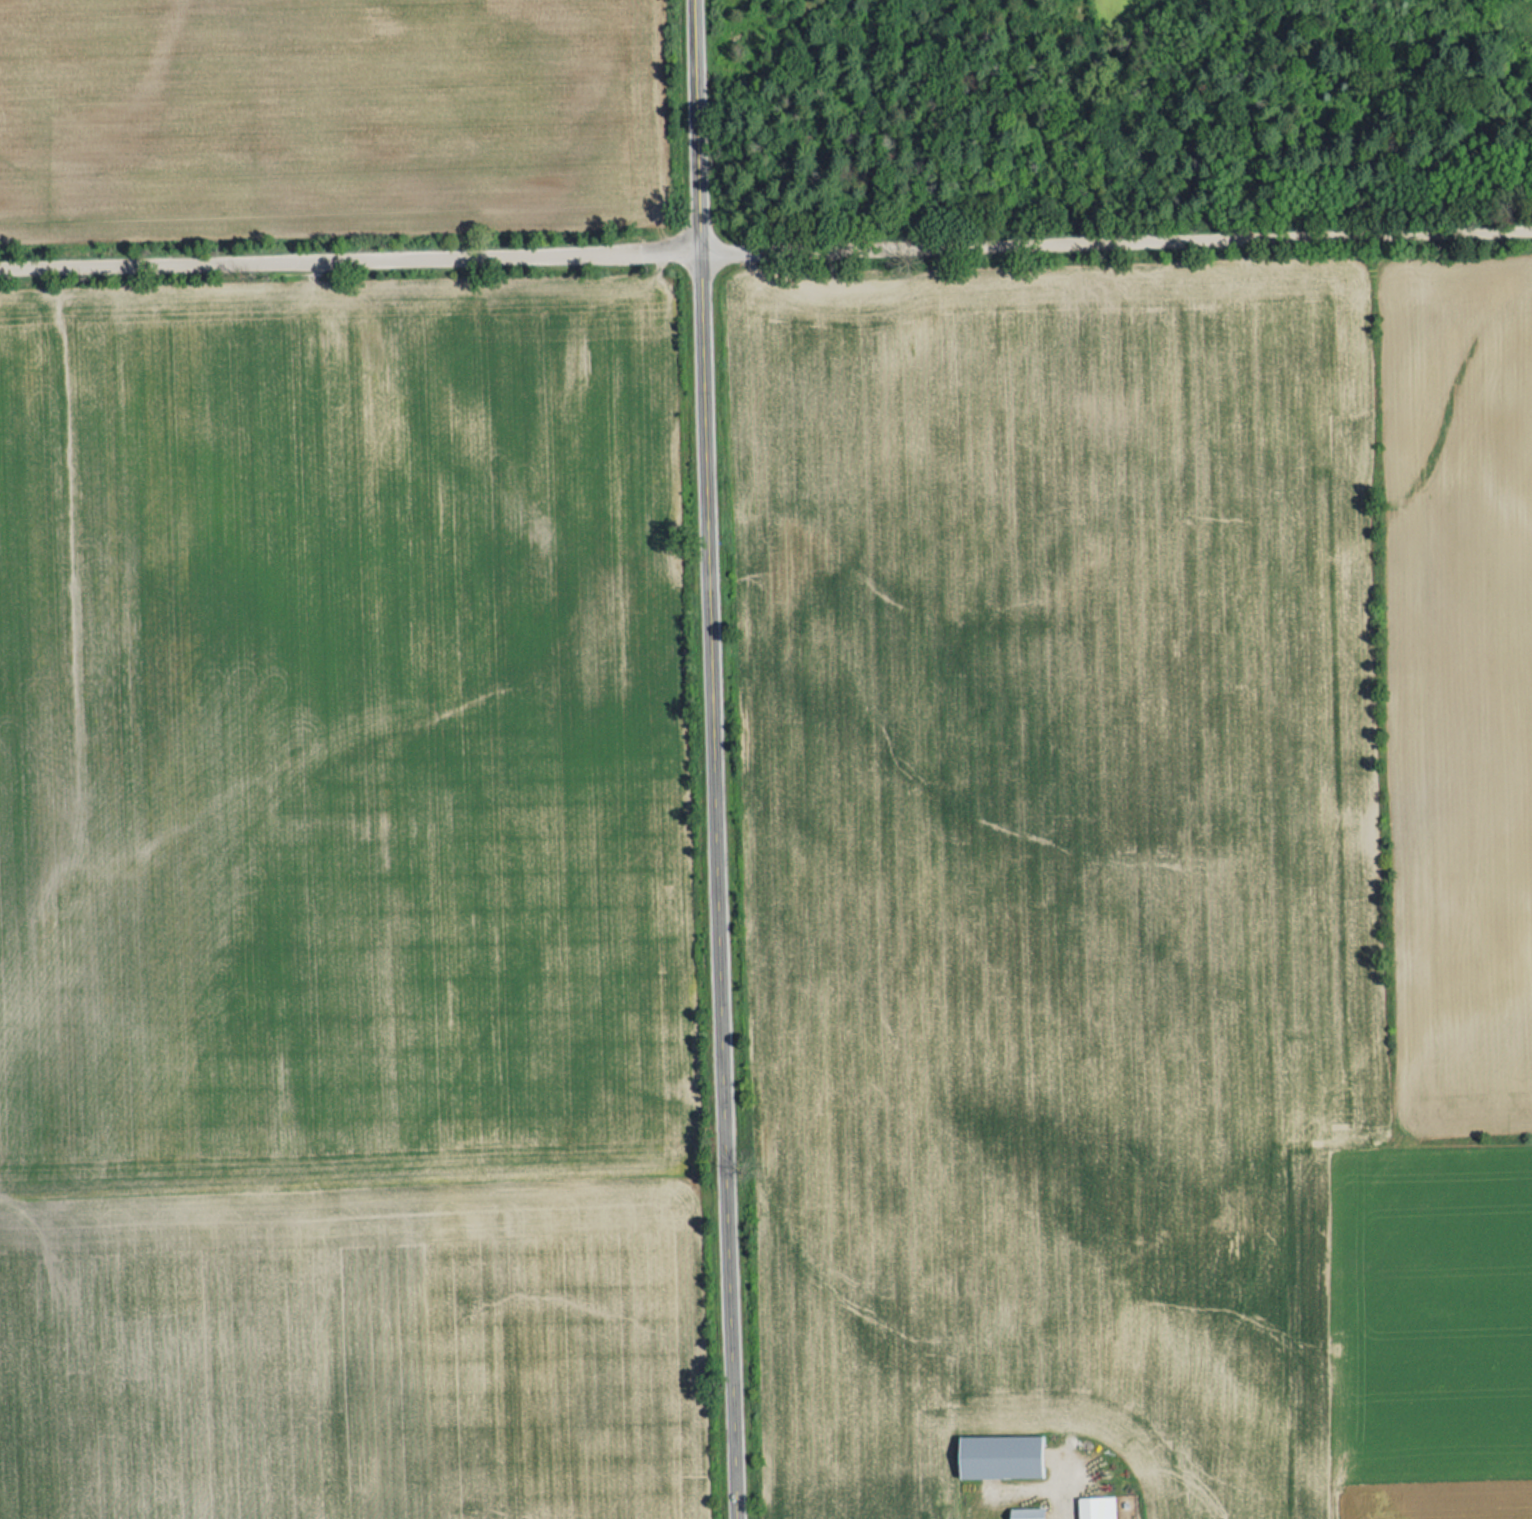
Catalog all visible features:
road: (766, 245)
road: (716, 759)
building: (1002, 1449)
building: (1099, 1505)
building: (1030, 1509)

